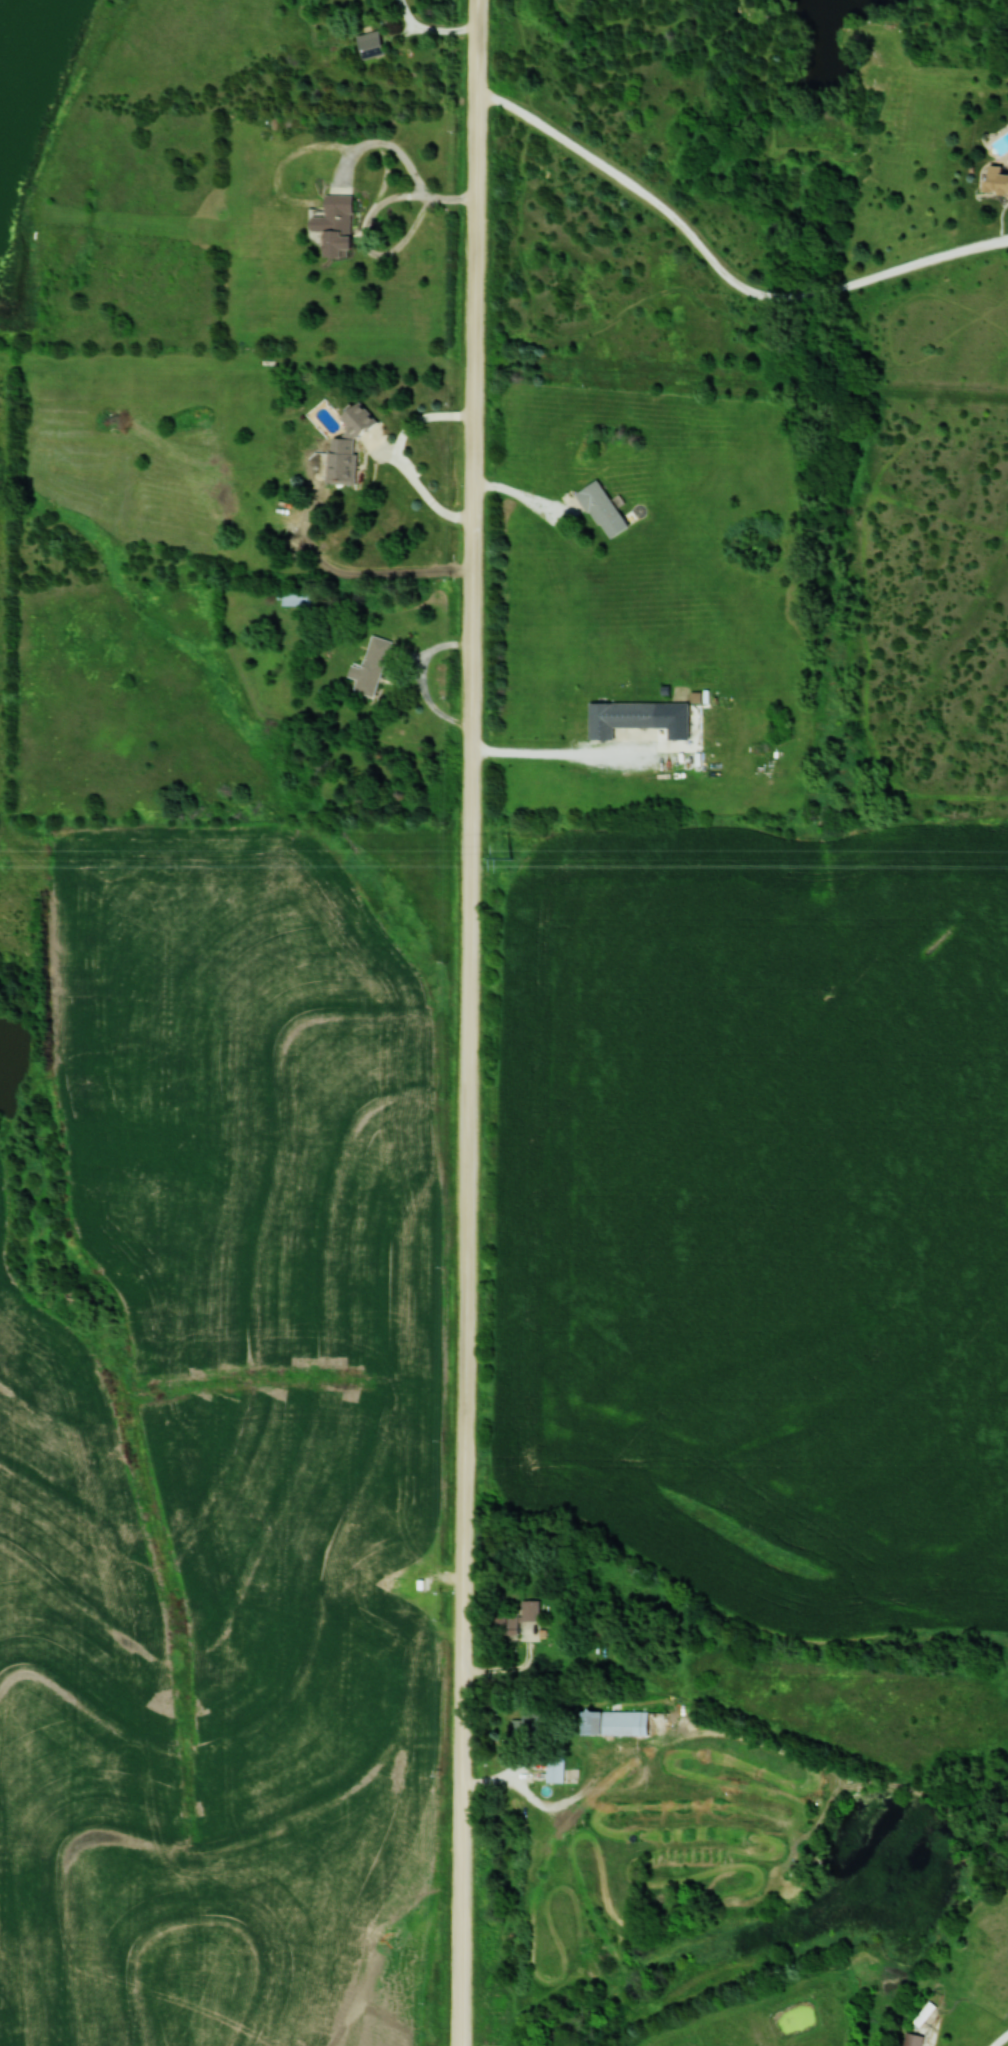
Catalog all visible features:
road: (431, 31)
building: (368, 45)
building: (995, 181)
road: (367, 224)
building: (336, 225)
road: (720, 268)
building: (344, 447)
road: (401, 457)
road: (527, 499)
building: (600, 509)
building: (292, 598)
building: (369, 667)
road: (422, 679)
building: (620, 717)
road: (555, 753)
power tower: (509, 856)
road: (470, 1024)
crop: (229, 1471)
building: (528, 1610)
building: (530, 1719)
building: (610, 1721)
building: (553, 1765)
building: (923, 2013)
building: (911, 2039)
road: (1002, 2041)

